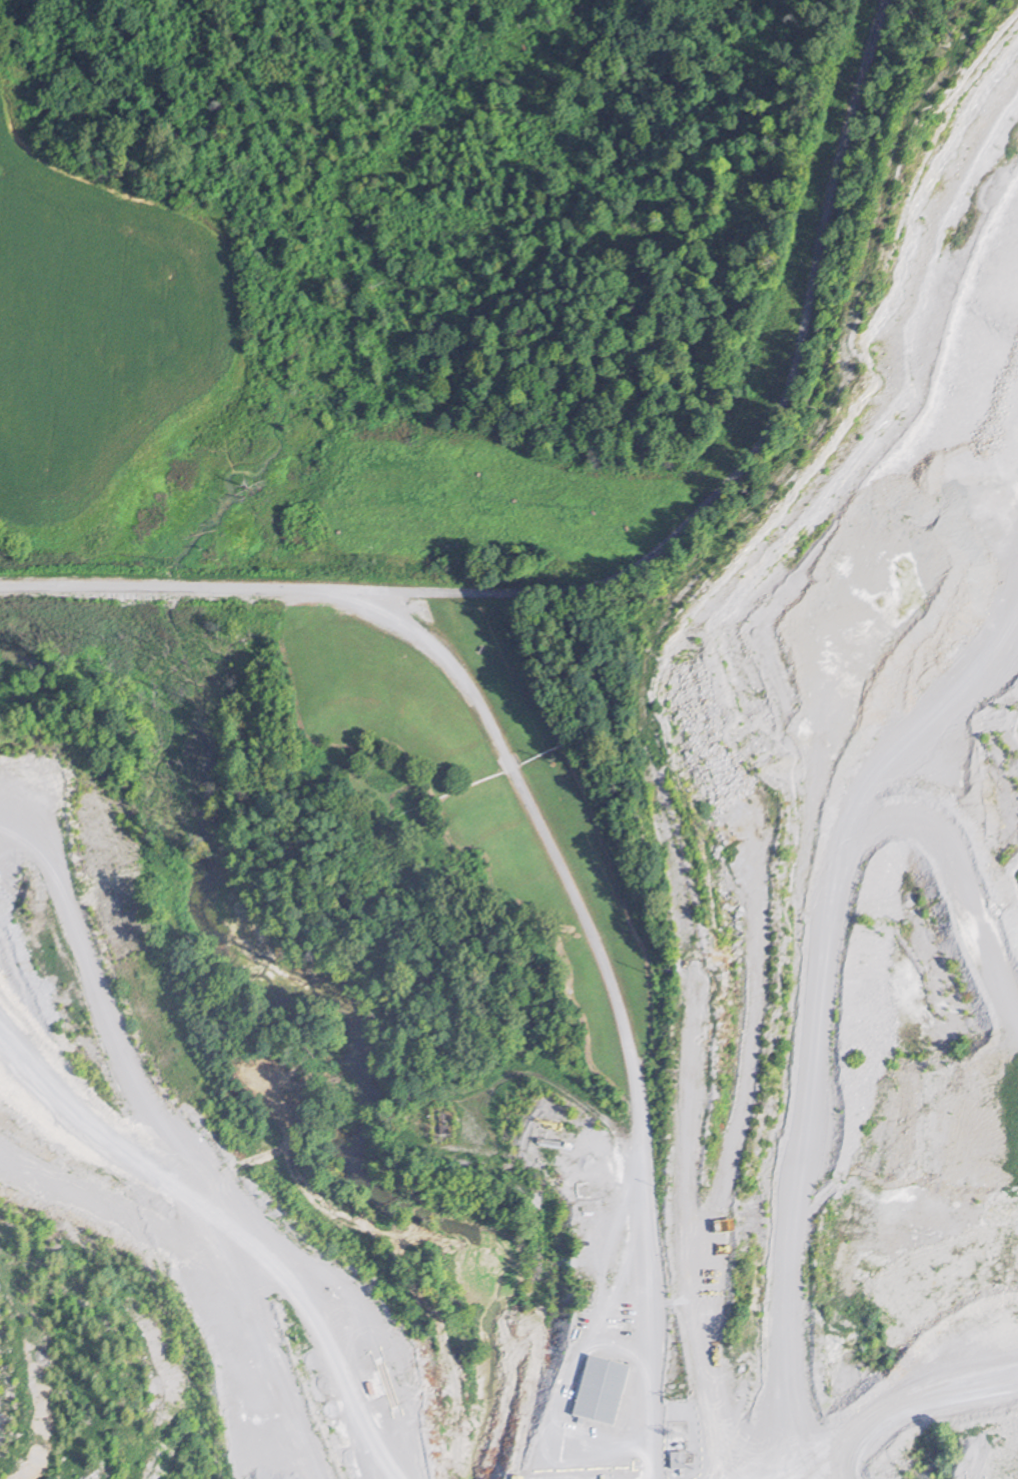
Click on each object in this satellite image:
road: (634, 567)
road: (924, 717)
road: (590, 937)
road: (696, 992)
quarry: (564, 993)
road: (803, 1012)
building: (448, 1124)
road: (200, 1156)
road: (606, 1255)
building: (605, 1392)
building: (680, 1462)

